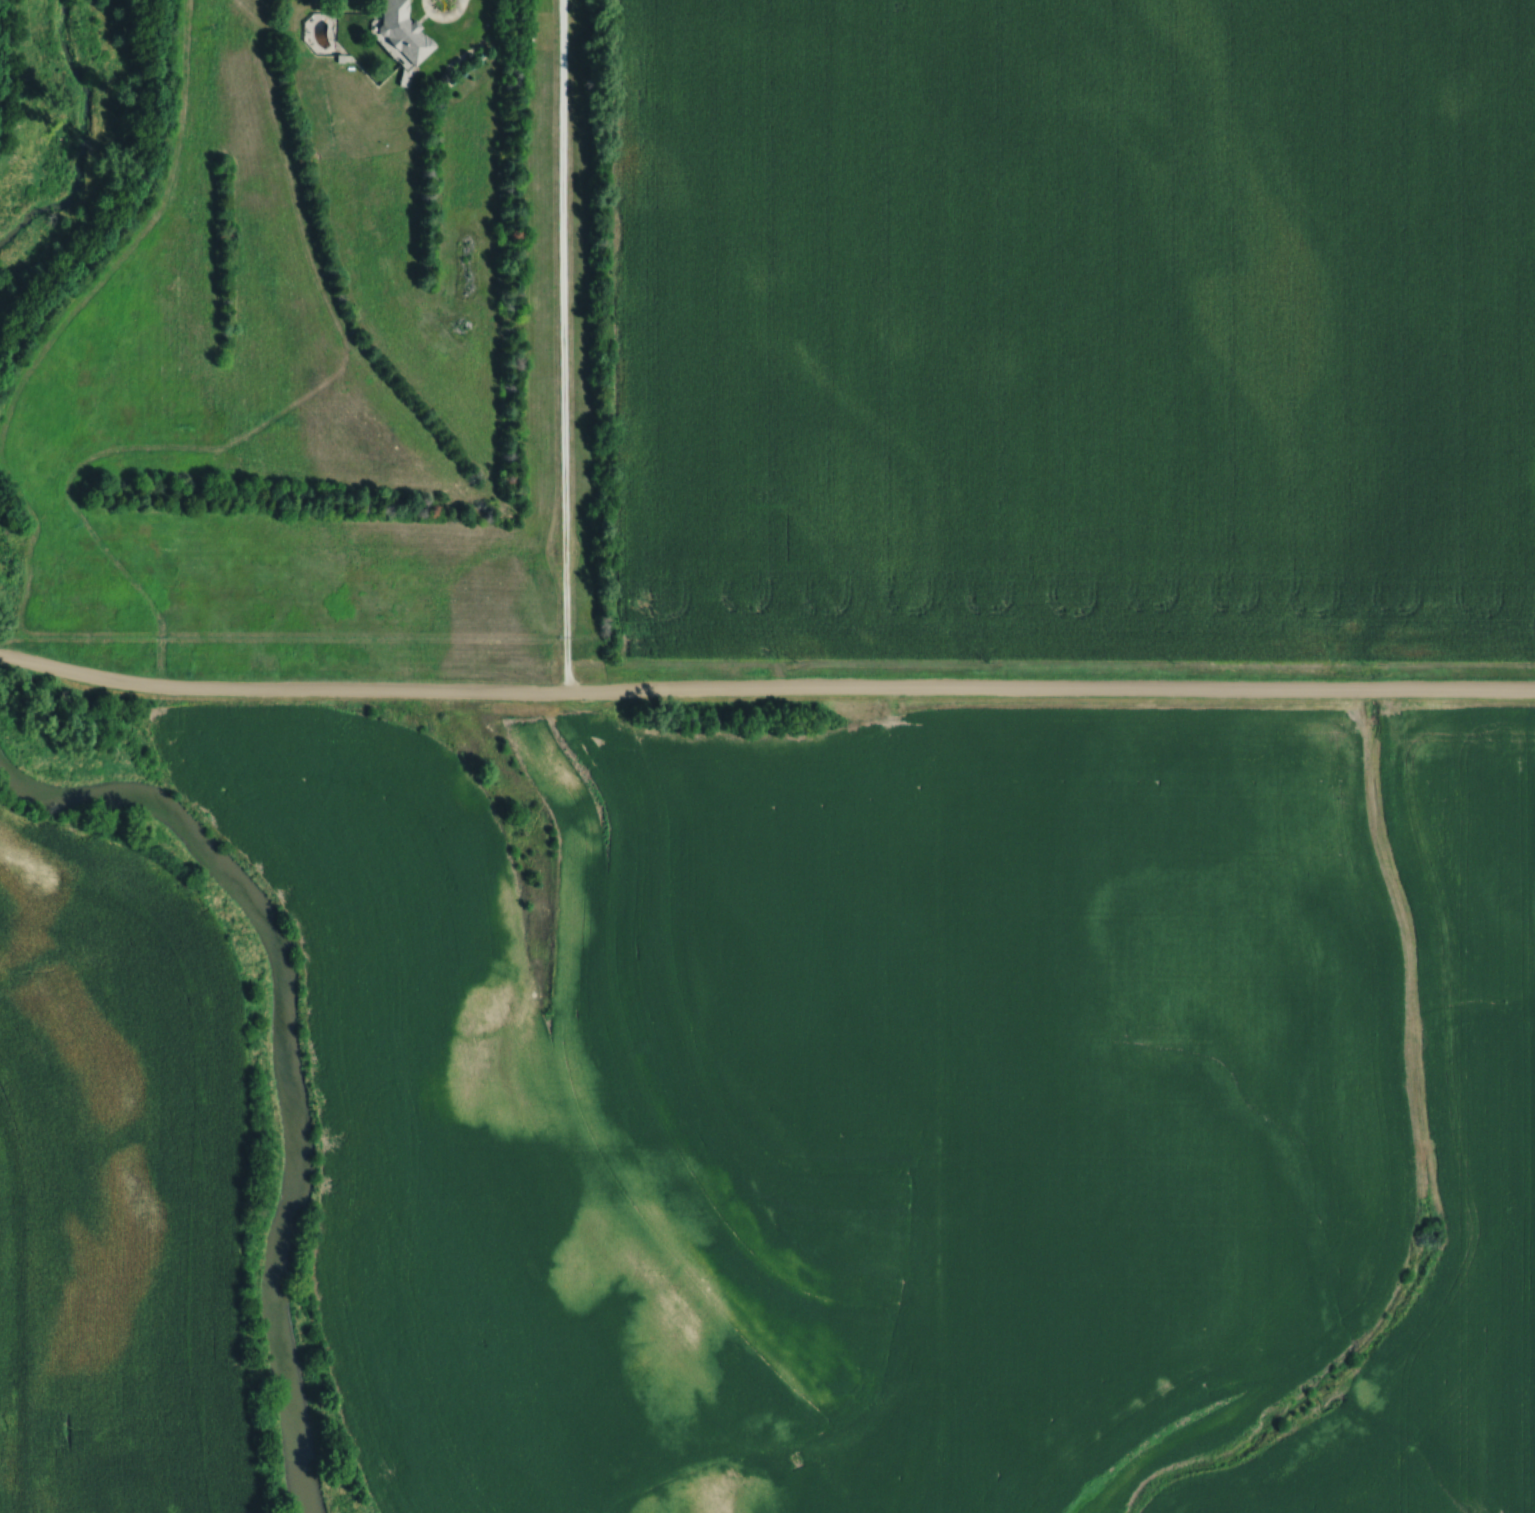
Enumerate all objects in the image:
road: (443, 21)
building: (399, 35)
road: (563, 346)
road: (1, 656)
road: (766, 692)
river: (286, 1051)

